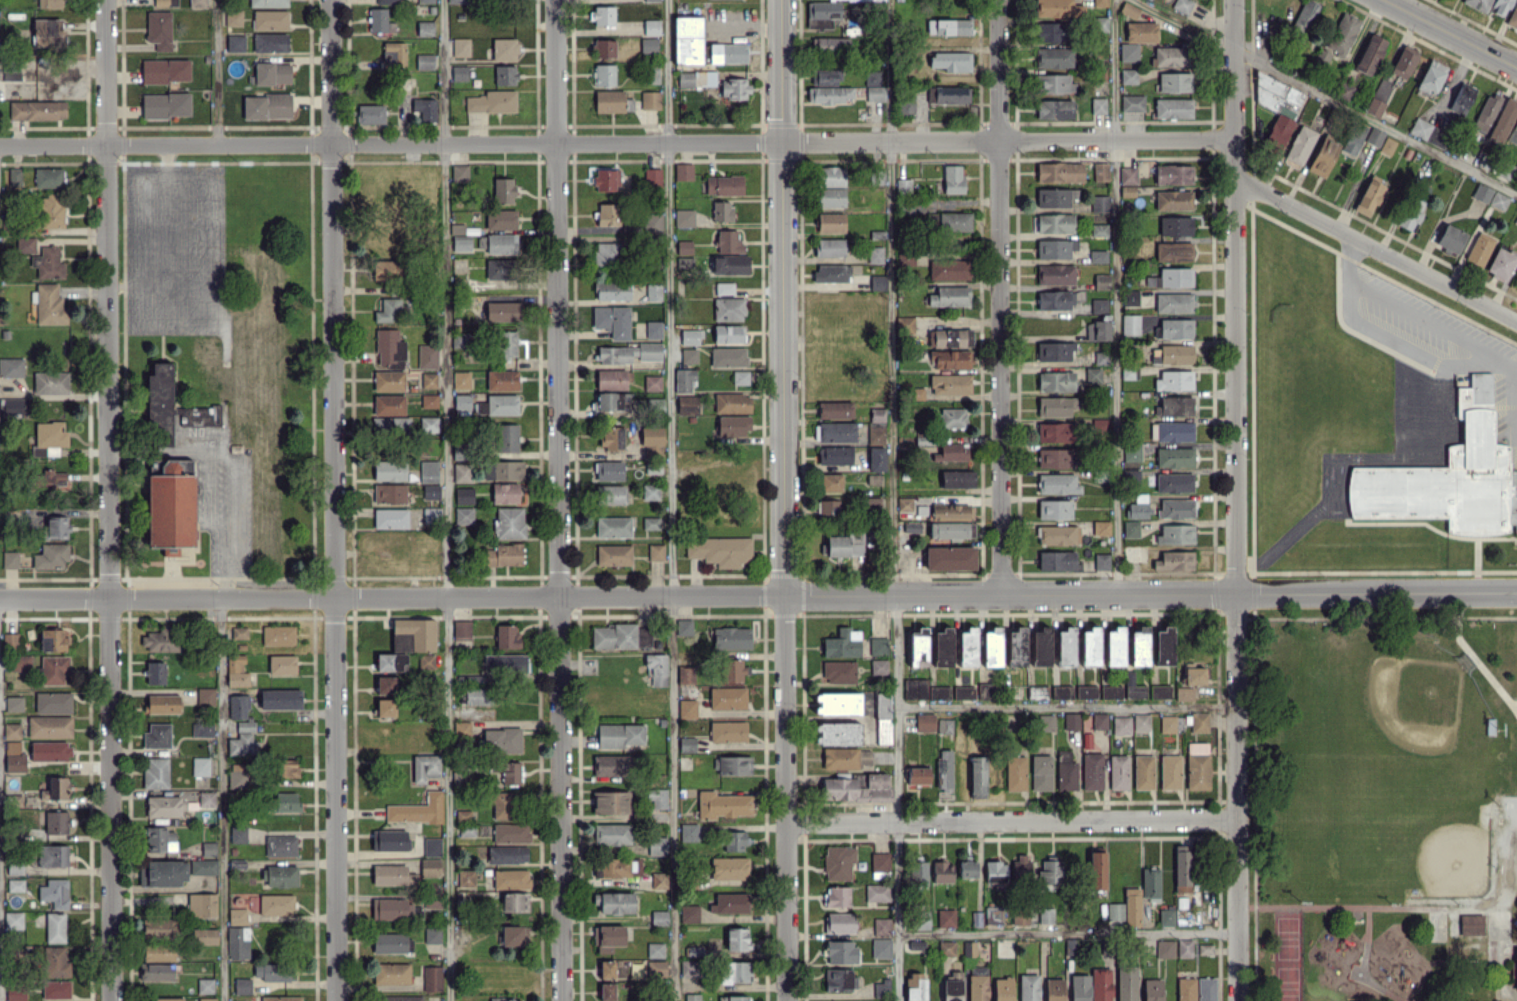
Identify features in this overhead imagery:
building: (1478, 4)
building: (1500, 6)
building: (1513, 18)
road: (1451, 33)
road: (217, 72)
road: (1326, 95)
building: (1462, 98)
building: (1486, 113)
building: (1503, 119)
building: (1513, 133)
road: (617, 142)
building: (1505, 170)
building: (1481, 192)
building: (1498, 200)
road: (165, 221)
building: (1515, 221)
building: (1480, 248)
road: (1375, 250)
building: (1501, 262)
building: (1515, 280)
road: (1115, 295)
road: (1000, 296)
road: (1415, 313)
building: (1475, 391)
road: (128, 451)
road: (153, 452)
building: (1446, 484)
road: (227, 494)
road: (108, 500)
road: (331, 500)
road: (447, 500)
road: (558, 500)
road: (671, 500)
road: (784, 500)
road: (896, 500)
road: (1236, 500)
road: (758, 594)
road: (1472, 655)
road: (1068, 705)
park: (1402, 712)
road: (220, 798)
park: (1381, 803)
road: (1011, 818)
park: (1435, 846)
road: (1513, 870)
road: (1402, 903)
road: (1368, 921)
building: (1471, 923)
road: (1069, 932)
road: (1503, 953)
park: (1288, 954)
building: (1516, 965)

